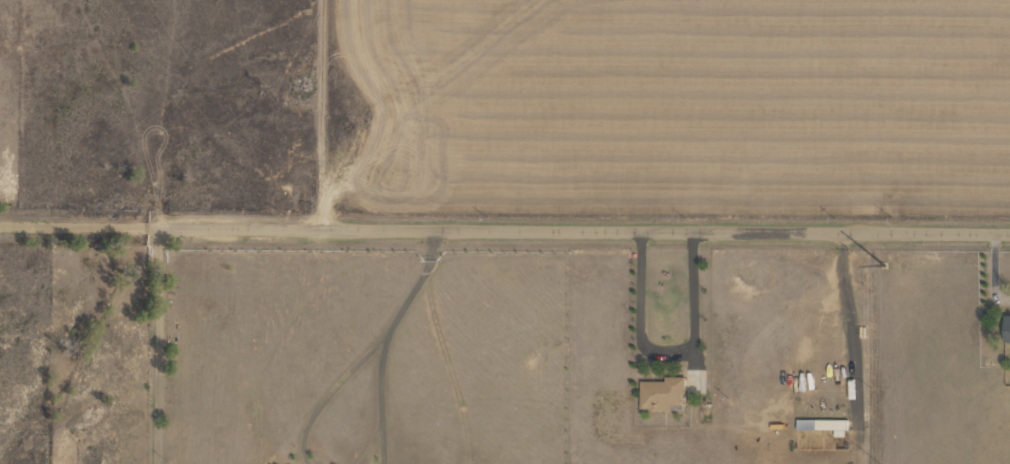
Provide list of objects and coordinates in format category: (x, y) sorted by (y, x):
road: (504, 228)
power tower: (876, 264)
building: (1006, 327)
road: (158, 345)
building: (660, 393)
building: (821, 424)

